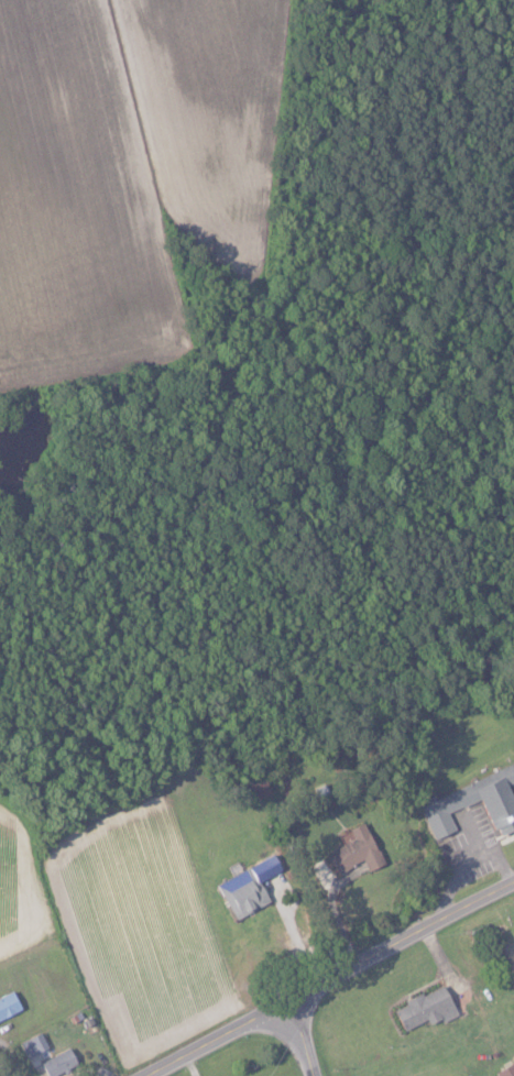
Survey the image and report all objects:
building: (255, 789)
building: (446, 801)
building: (351, 850)
building: (244, 887)
road: (295, 948)
road: (333, 979)
building: (7, 1003)
building: (423, 1008)
road: (303, 1040)
building: (31, 1043)
road: (13, 1057)
building: (55, 1062)
building: (505, 1069)

